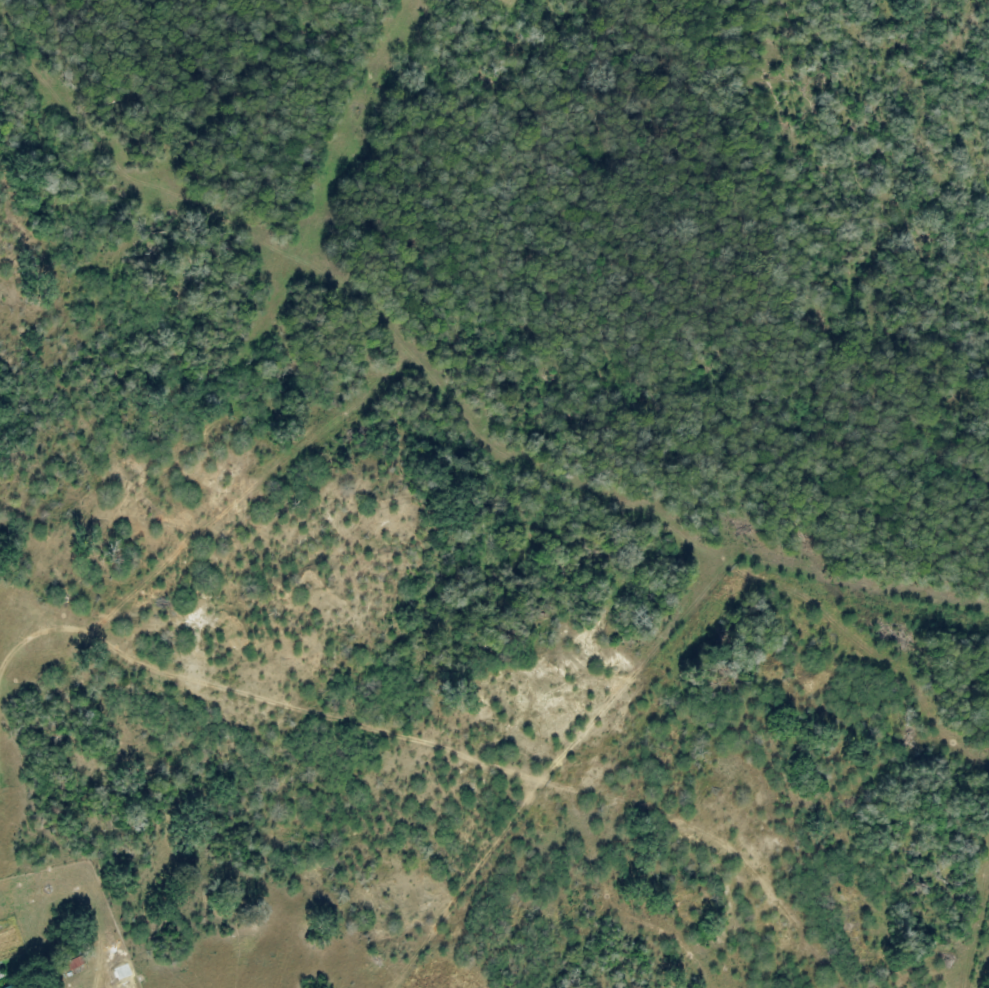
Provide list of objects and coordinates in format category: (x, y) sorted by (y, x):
road: (107, 964)

